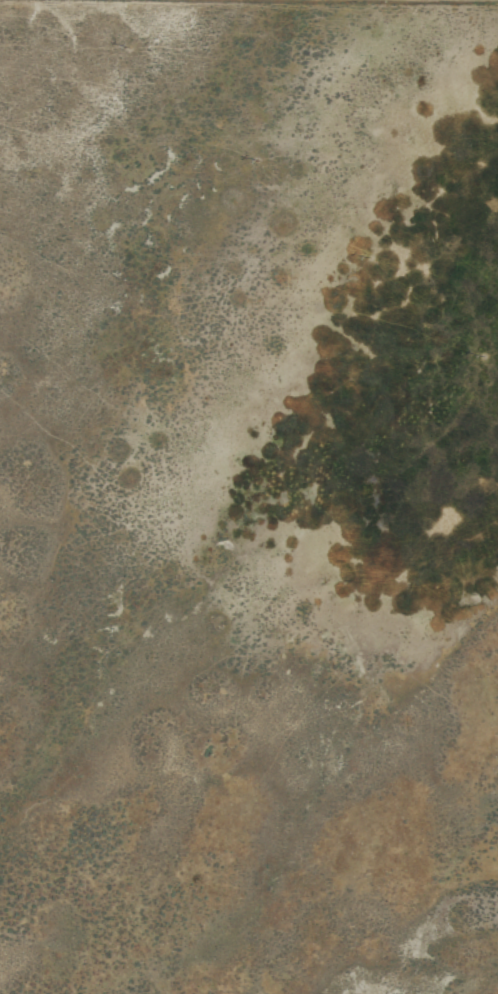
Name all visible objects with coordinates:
road: (249, 15)
crop: (249, 497)

